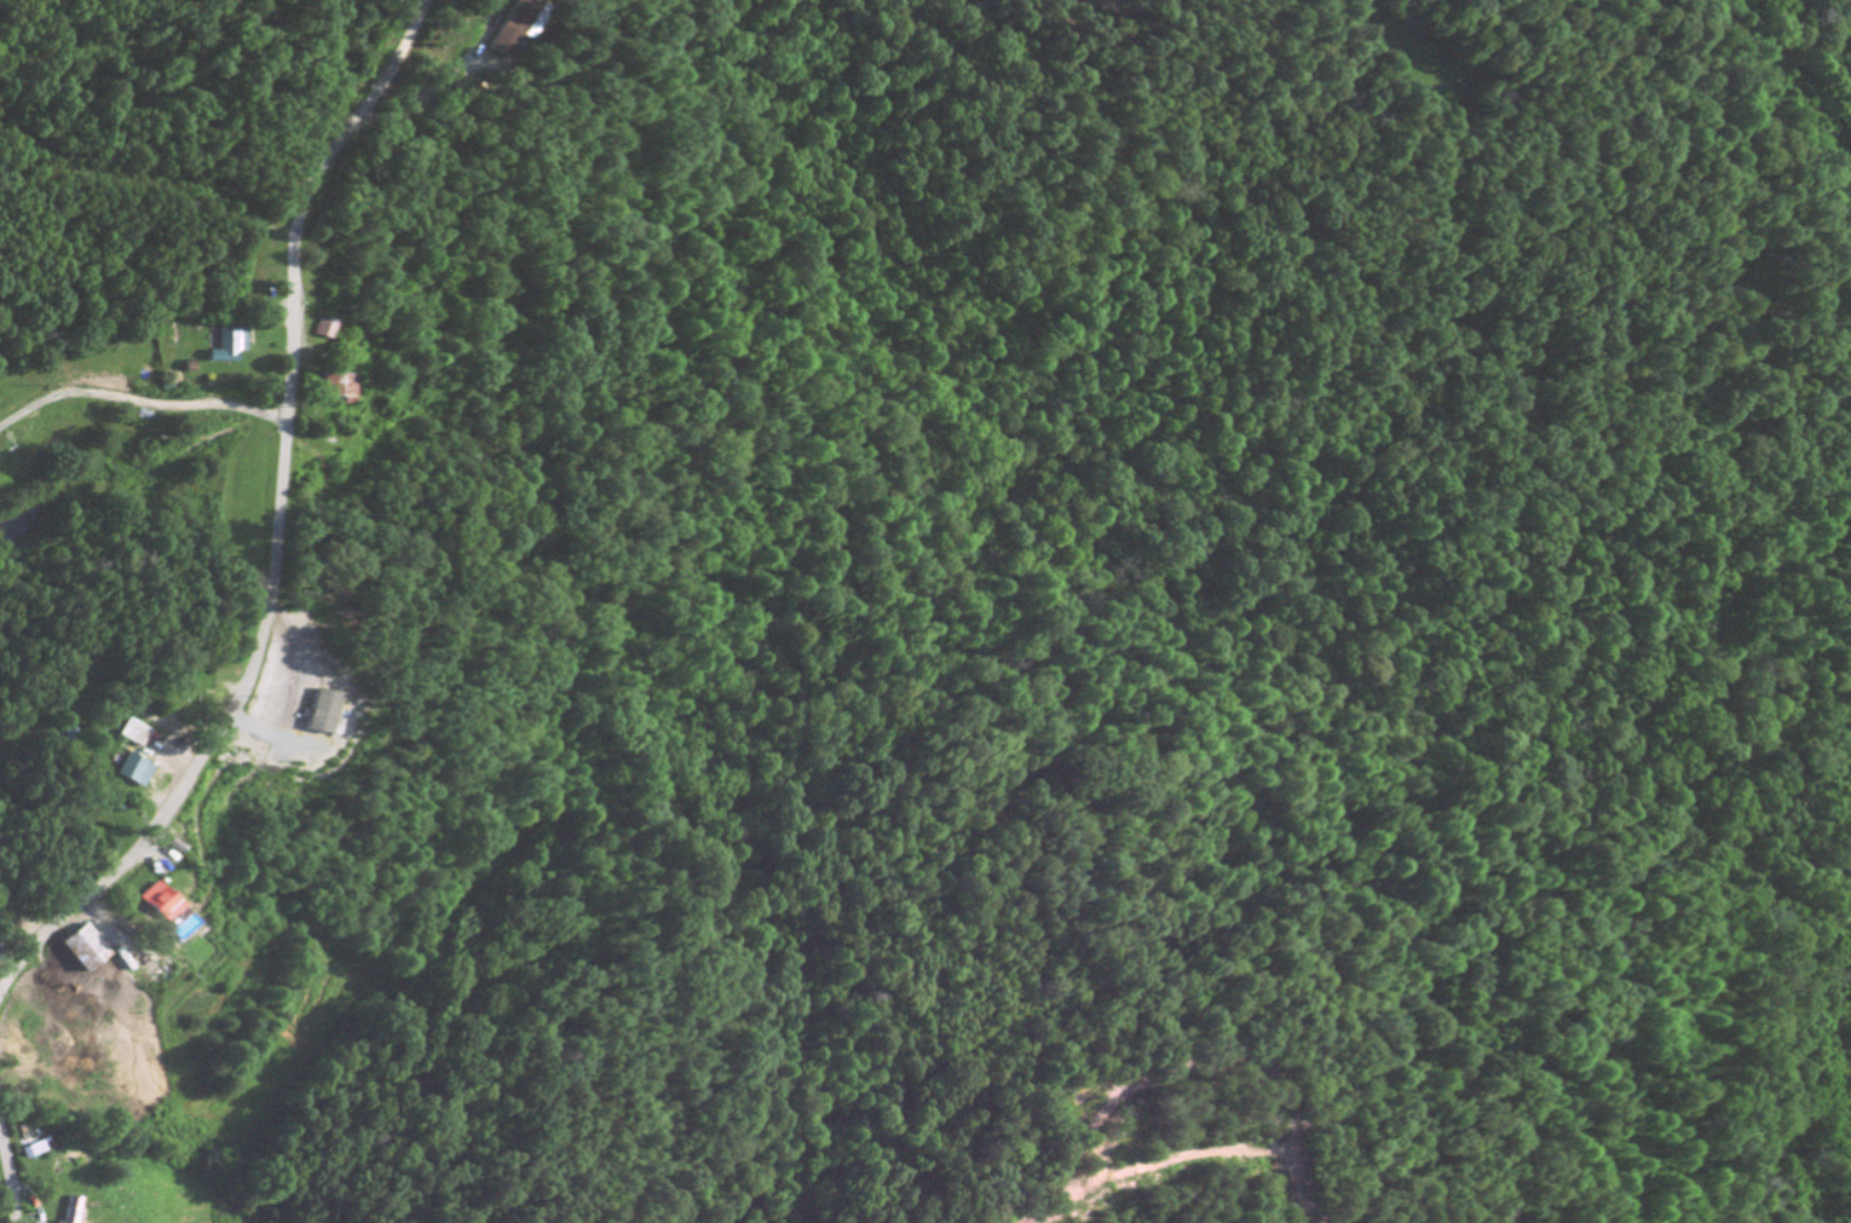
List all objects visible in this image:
building: (515, 28)
building: (229, 348)
building: (341, 392)
road: (139, 404)
road: (276, 523)
park: (175, 682)
building: (319, 713)
building: (135, 733)
building: (135, 771)
building: (156, 904)
building: (83, 950)
building: (30, 1153)
road: (8, 1182)
building: (70, 1212)

